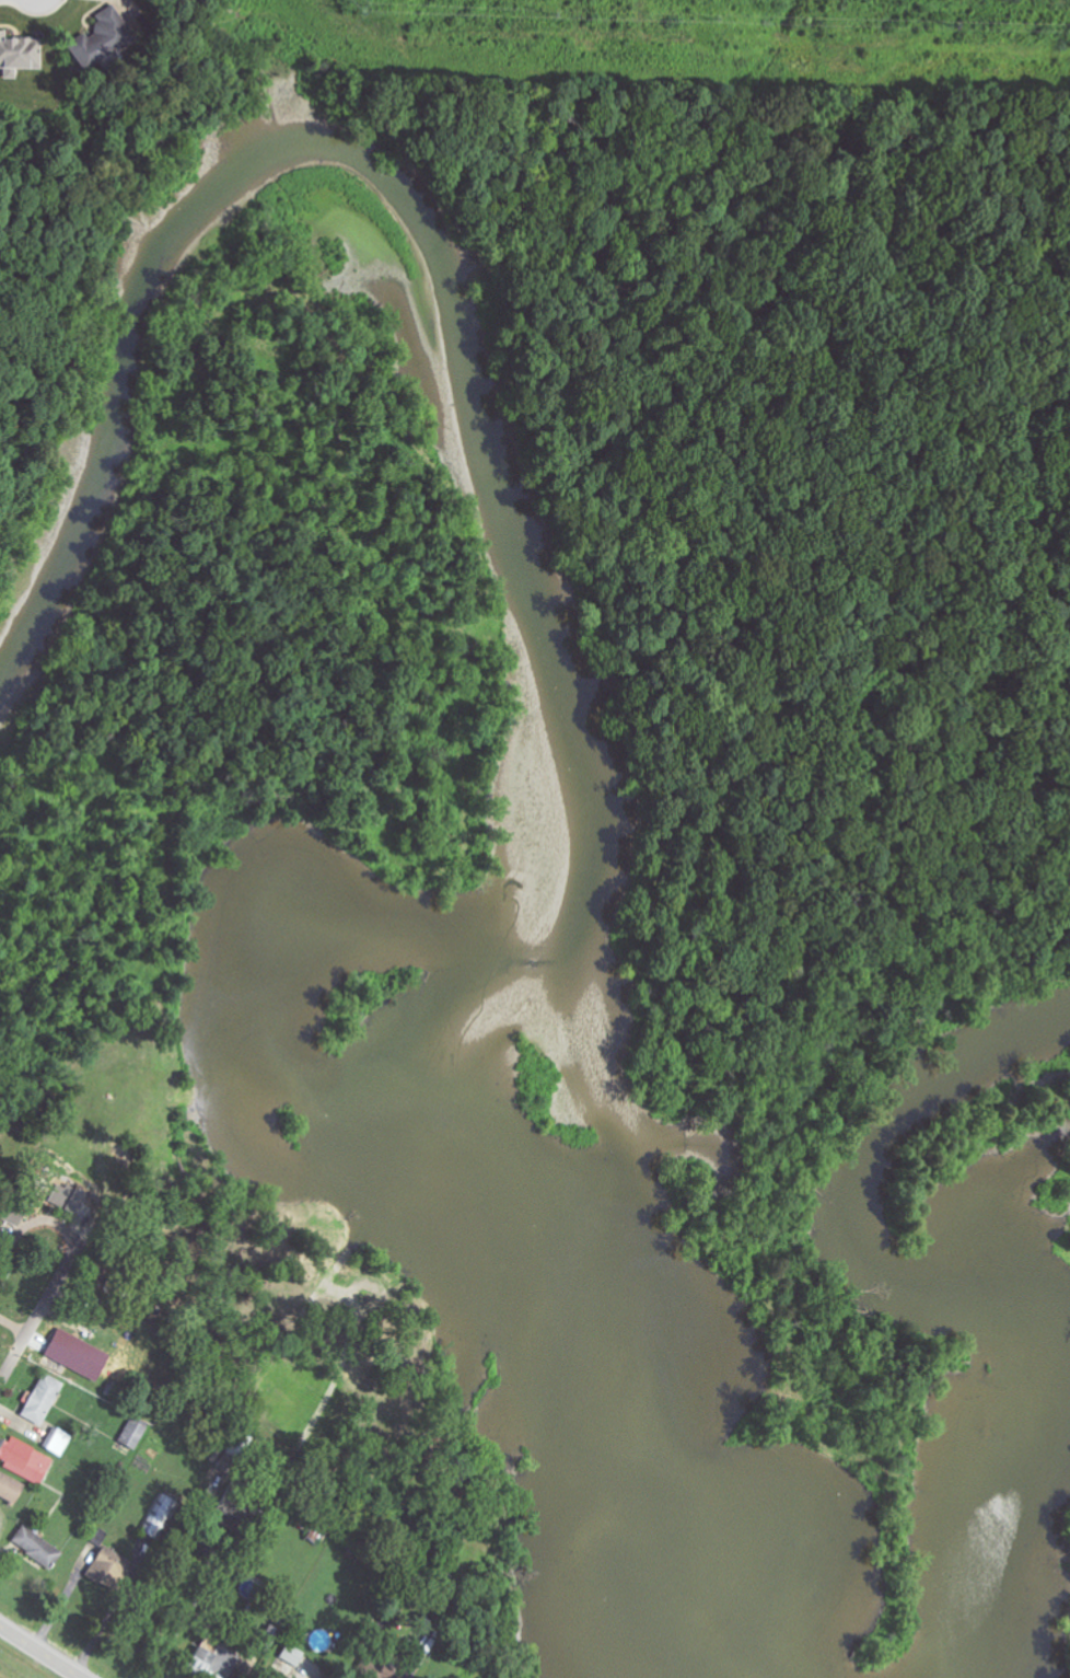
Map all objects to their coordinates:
building: (102, 38)
building: (19, 56)
building: (67, 1199)
road: (67, 1265)
road: (13, 1328)
building: (43, 1399)
building: (133, 1435)
building: (60, 1443)
building: (26, 1460)
building: (10, 1489)
building: (161, 1515)
building: (38, 1546)
building: (109, 1567)
road: (199, 1598)
building: (272, 1633)
road: (38, 1652)
building: (293, 1654)
building: (216, 1662)

